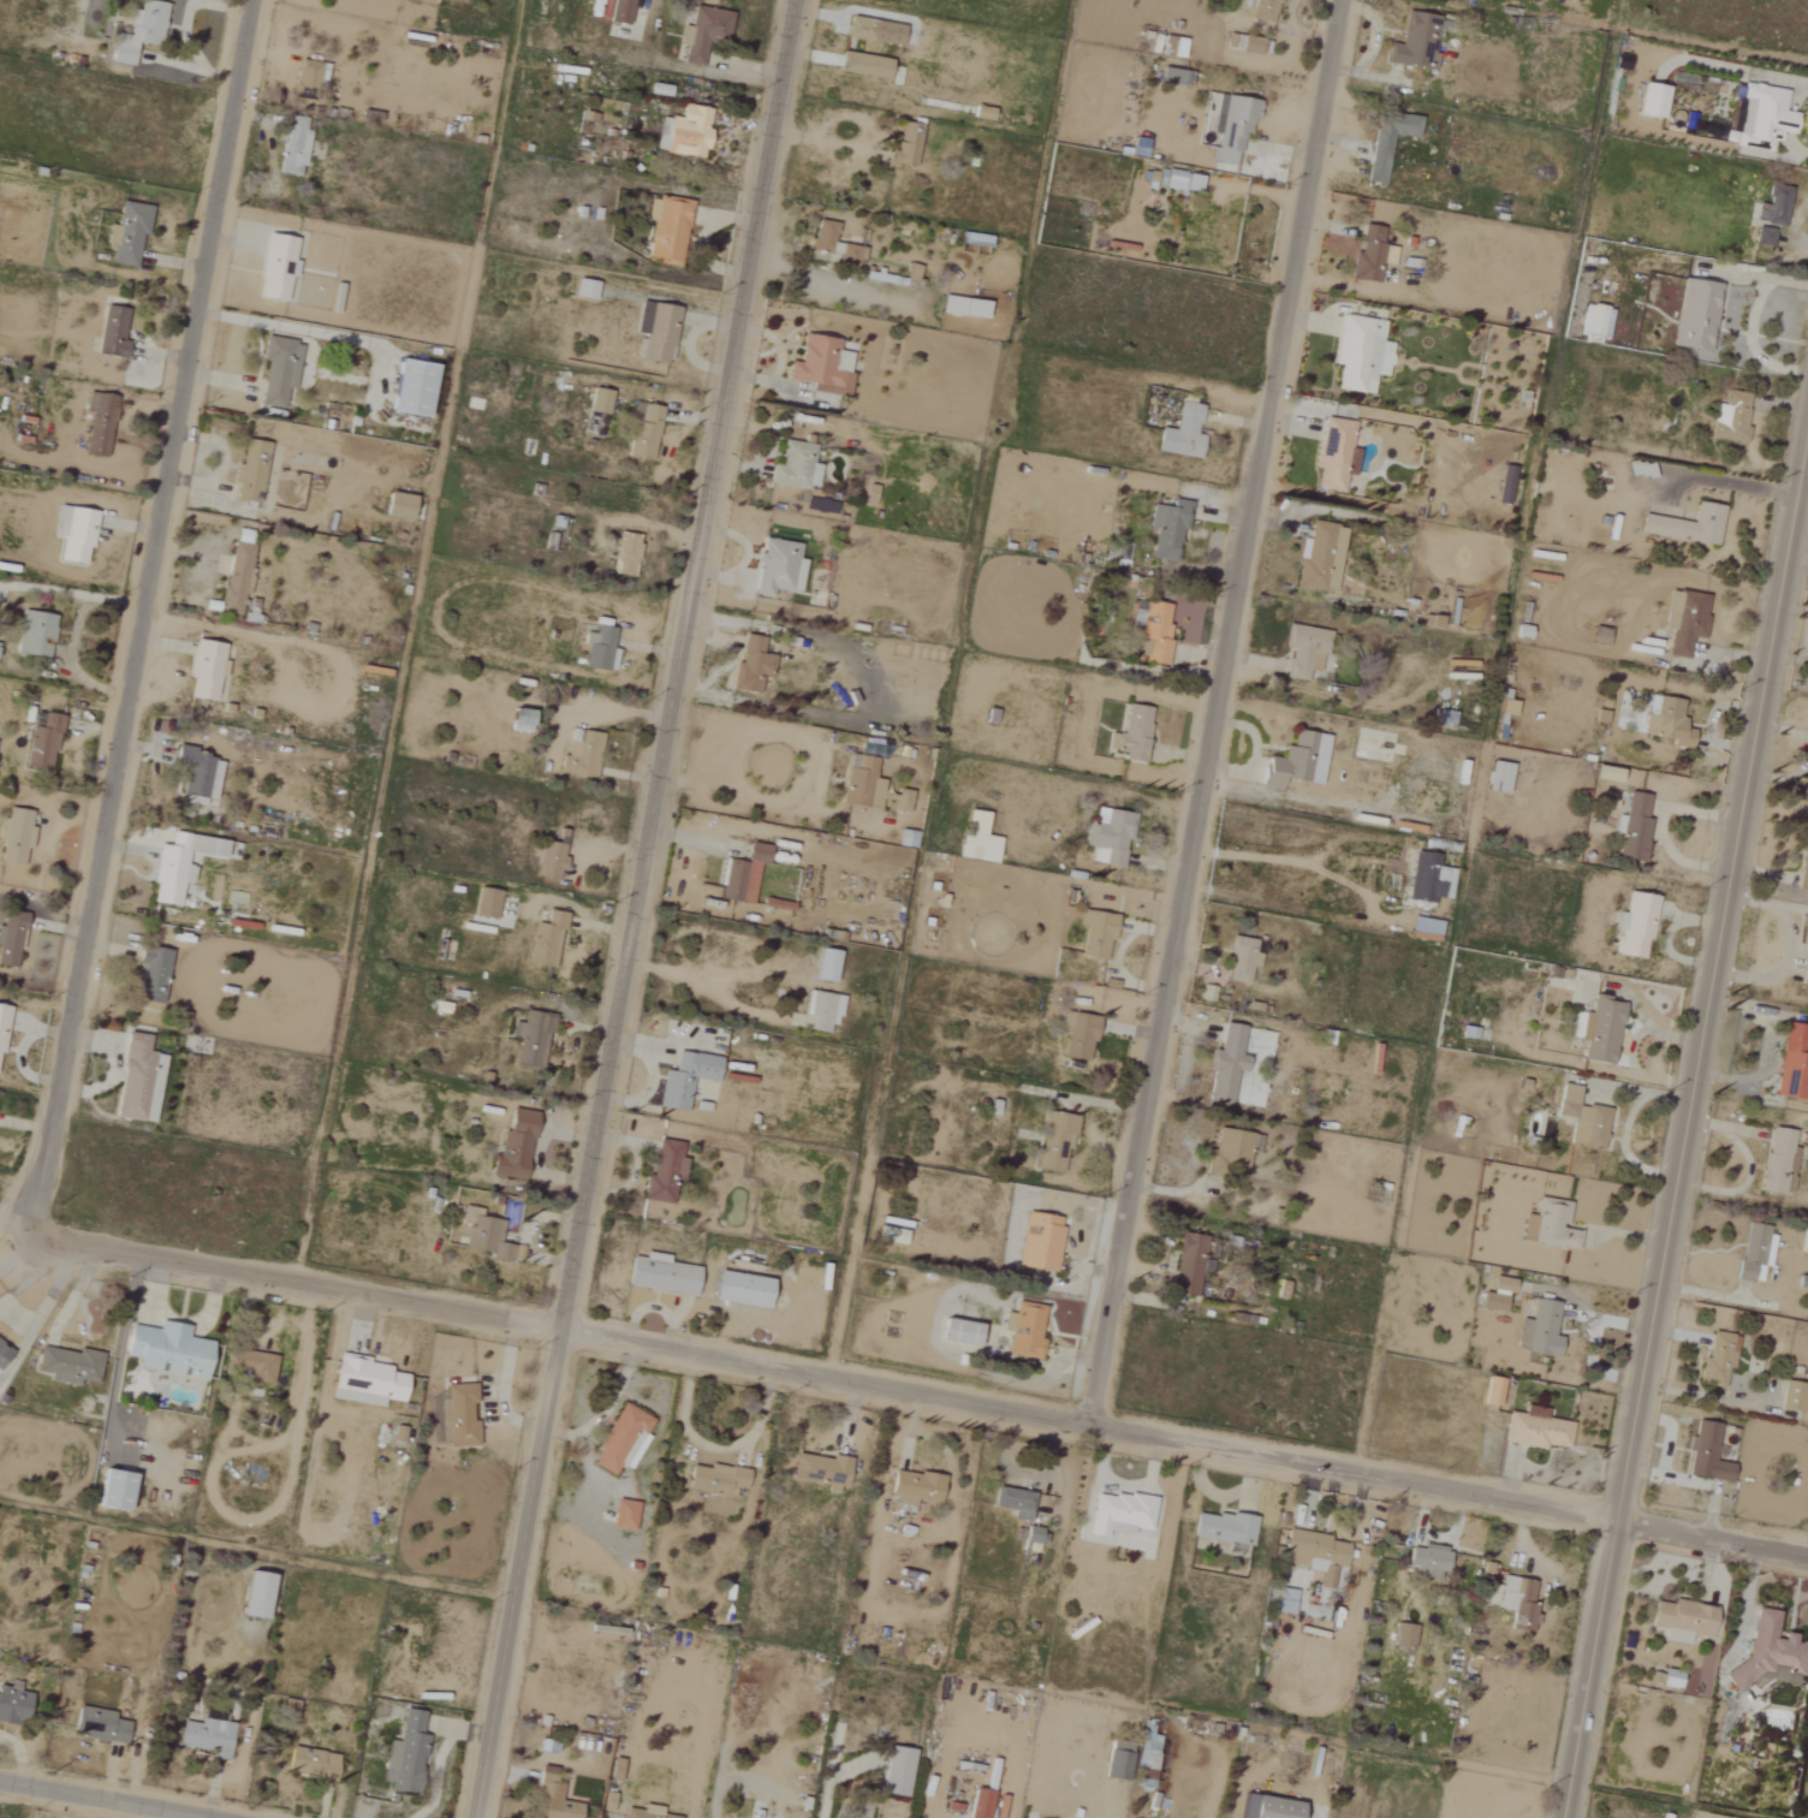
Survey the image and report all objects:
building: (1263, 10)
building: (619, 12)
road: (185, 26)
building: (138, 31)
building: (873, 31)
building: (704, 32)
building: (683, 36)
building: (1415, 41)
building: (1249, 46)
building: (863, 66)
building: (1171, 76)
building: (305, 79)
building: (1651, 100)
building: (1755, 119)
building: (1231, 125)
building: (686, 132)
building: (1386, 141)
building: (906, 143)
building: (292, 151)
building: (1179, 180)
building: (1773, 207)
building: (667, 230)
building: (129, 232)
building: (1762, 237)
building: (834, 245)
building: (1369, 255)
building: (275, 266)
building: (584, 289)
building: (962, 307)
building: (1695, 314)
building: (1594, 321)
building: (111, 332)
building: (658, 333)
building: (1360, 353)
building: (820, 366)
building: (276, 370)
building: (409, 387)
building: (597, 400)
building: (1736, 417)
building: (97, 423)
building: (643, 430)
building: (1182, 433)
building: (1334, 454)
building: (795, 465)
building: (1638, 469)
building: (249, 471)
building: (397, 506)
building: (1684, 523)
building: (1166, 528)
building: (76, 535)
building: (625, 554)
building: (1319, 557)
building: (220, 565)
building: (777, 566)
building: (237, 570)
road: (142, 616)
building: (1684, 620)
building: (1153, 631)
road: (75, 632)
building: (34, 634)
building: (1598, 635)
building: (599, 649)
building: (1303, 650)
building: (750, 664)
building: (204, 670)
road: (869, 693)
building: (1506, 707)
road: (1218, 708)
building: (518, 719)
building: (1444, 719)
building: (1667, 721)
building: (1132, 733)
building: (41, 743)
building: (579, 754)
building: (1296, 761)
building: (196, 773)
building: (1497, 777)
building: (868, 788)
building: (1631, 827)
building: (1807, 827)
building: (14, 836)
building: (1108, 836)
building: (905, 838)
building: (976, 839)
building: (551, 854)
road: (1284, 857)
building: (178, 865)
building: (1803, 869)
building: (742, 874)
building: (1428, 878)
building: (486, 903)
road: (634, 909)
building: (1423, 926)
building: (1635, 926)
building: (1096, 935)
building: (10, 937)
building: (545, 940)
building: (1241, 959)
building: (1804, 962)
building: (825, 966)
building: (151, 967)
road: (692, 988)
building: (822, 1011)
building: (1, 1021)
building: (1600, 1030)
building: (1076, 1035)
building: (530, 1039)
road: (20, 1051)
building: (1792, 1063)
building: (1225, 1064)
building: (684, 1079)
building: (137, 1080)
building: (1582, 1119)
road: (1684, 1119)
building: (1054, 1142)
building: (513, 1146)
building: (1778, 1161)
building: (664, 1174)
building: (1552, 1224)
building: (483, 1235)
building: (1039, 1242)
building: (1754, 1252)
building: (1186, 1265)
building: (660, 1275)
road: (72, 1295)
building: (1495, 1295)
road: (18, 1317)
road: (178, 1320)
building: (1024, 1331)
building: (1539, 1331)
building: (958, 1333)
building: (166, 1350)
building: (2, 1351)
building: (1717, 1359)
building: (249, 1365)
building: (67, 1366)
building: (365, 1382)
road: (918, 1389)
building: (1491, 1391)
building: (1792, 1396)
building: (457, 1416)
building: (1536, 1430)
building: (620, 1440)
building: (1706, 1455)
building: (821, 1471)
building: (714, 1479)
building: (914, 1487)
building: (112, 1490)
building: (1013, 1503)
building: (1118, 1514)
building: (623, 1515)
building: (1223, 1528)
building: (1031, 1535)
building: (1427, 1562)
building: (254, 1596)
building: (1285, 1600)
building: (1517, 1602)
building: (1681, 1621)
building: (1403, 1635)
building: (1772, 1656)
building: (1670, 1679)
building: (11, 1705)
building: (97, 1724)
building: (202, 1734)
building: (404, 1755)
building: (1144, 1760)
building: (1116, 1761)
building: (310, 1763)
building: (613, 1770)
building: (896, 1772)
road: (108, 1798)
building: (551, 1799)
building: (980, 1804)
building: (1266, 1807)
building: (643, 1812)

